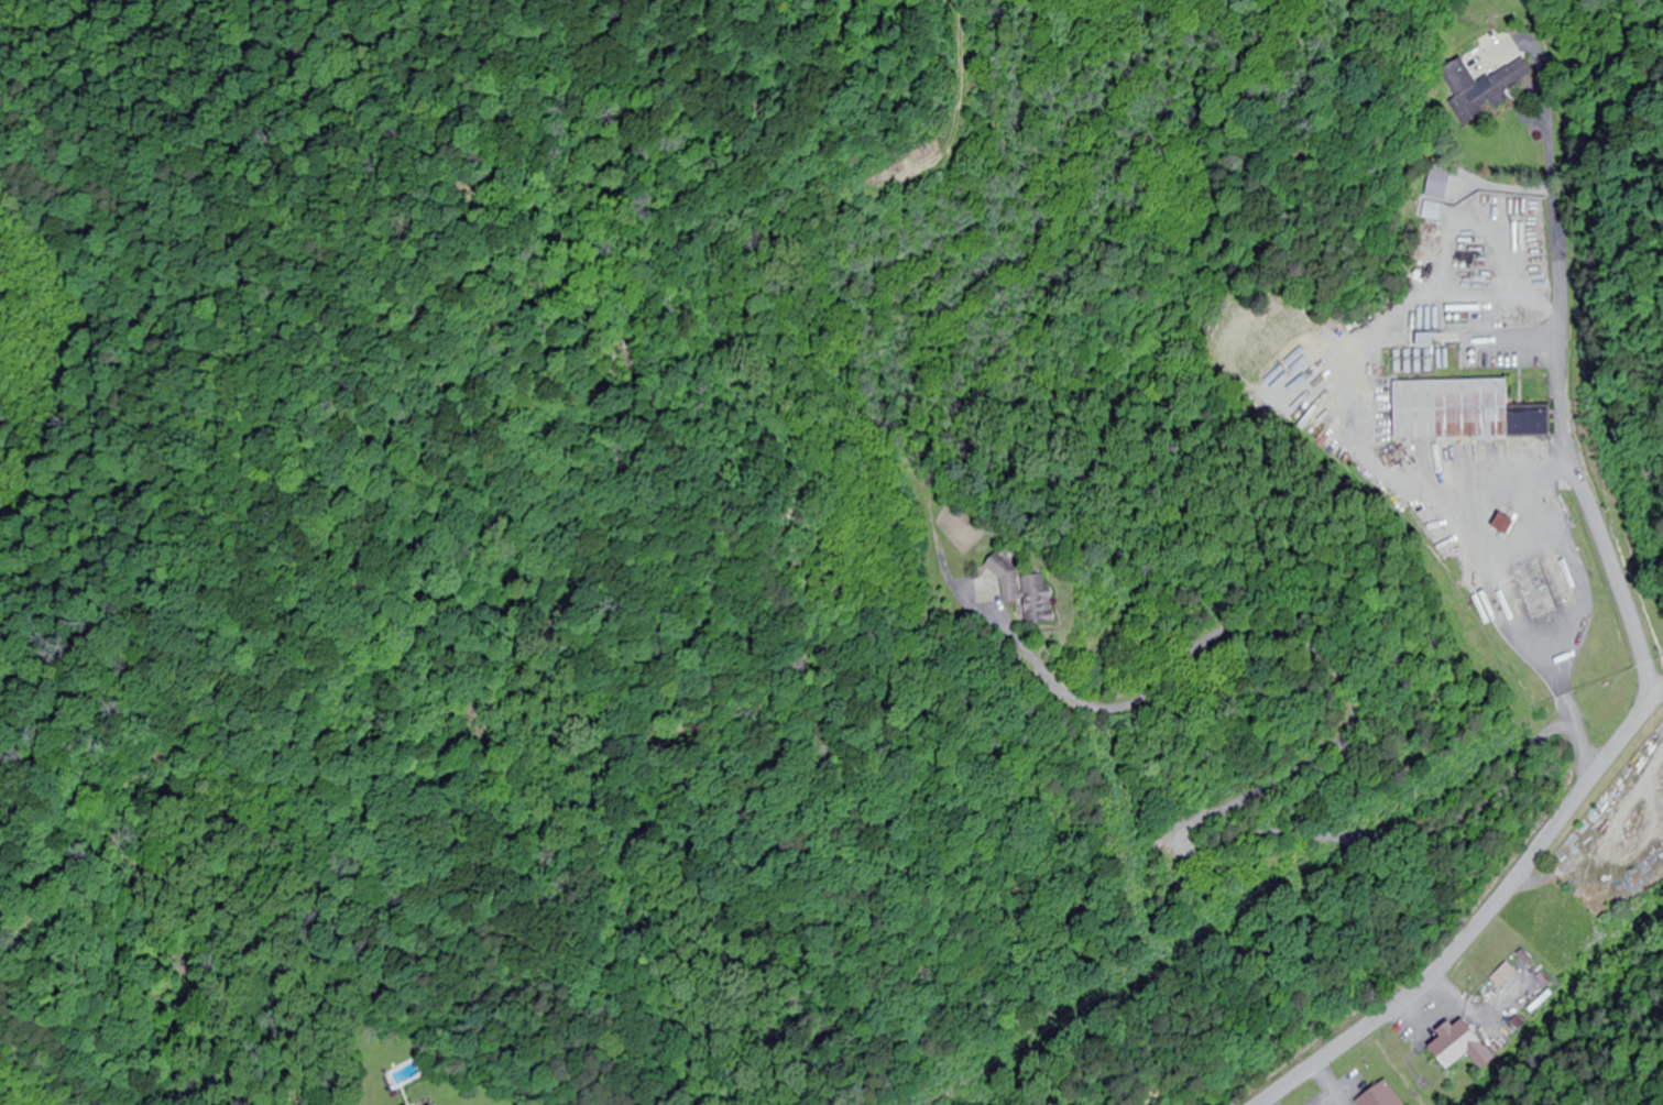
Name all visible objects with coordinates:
building: (1485, 89)
building: (1434, 211)
building: (1453, 401)
building: (1530, 413)
road: (1567, 457)
building: (1003, 569)
building: (1040, 600)
road: (1217, 722)
road: (1312, 766)
road: (1487, 919)
building: (1508, 976)
building: (1466, 1047)
building: (1385, 1096)

